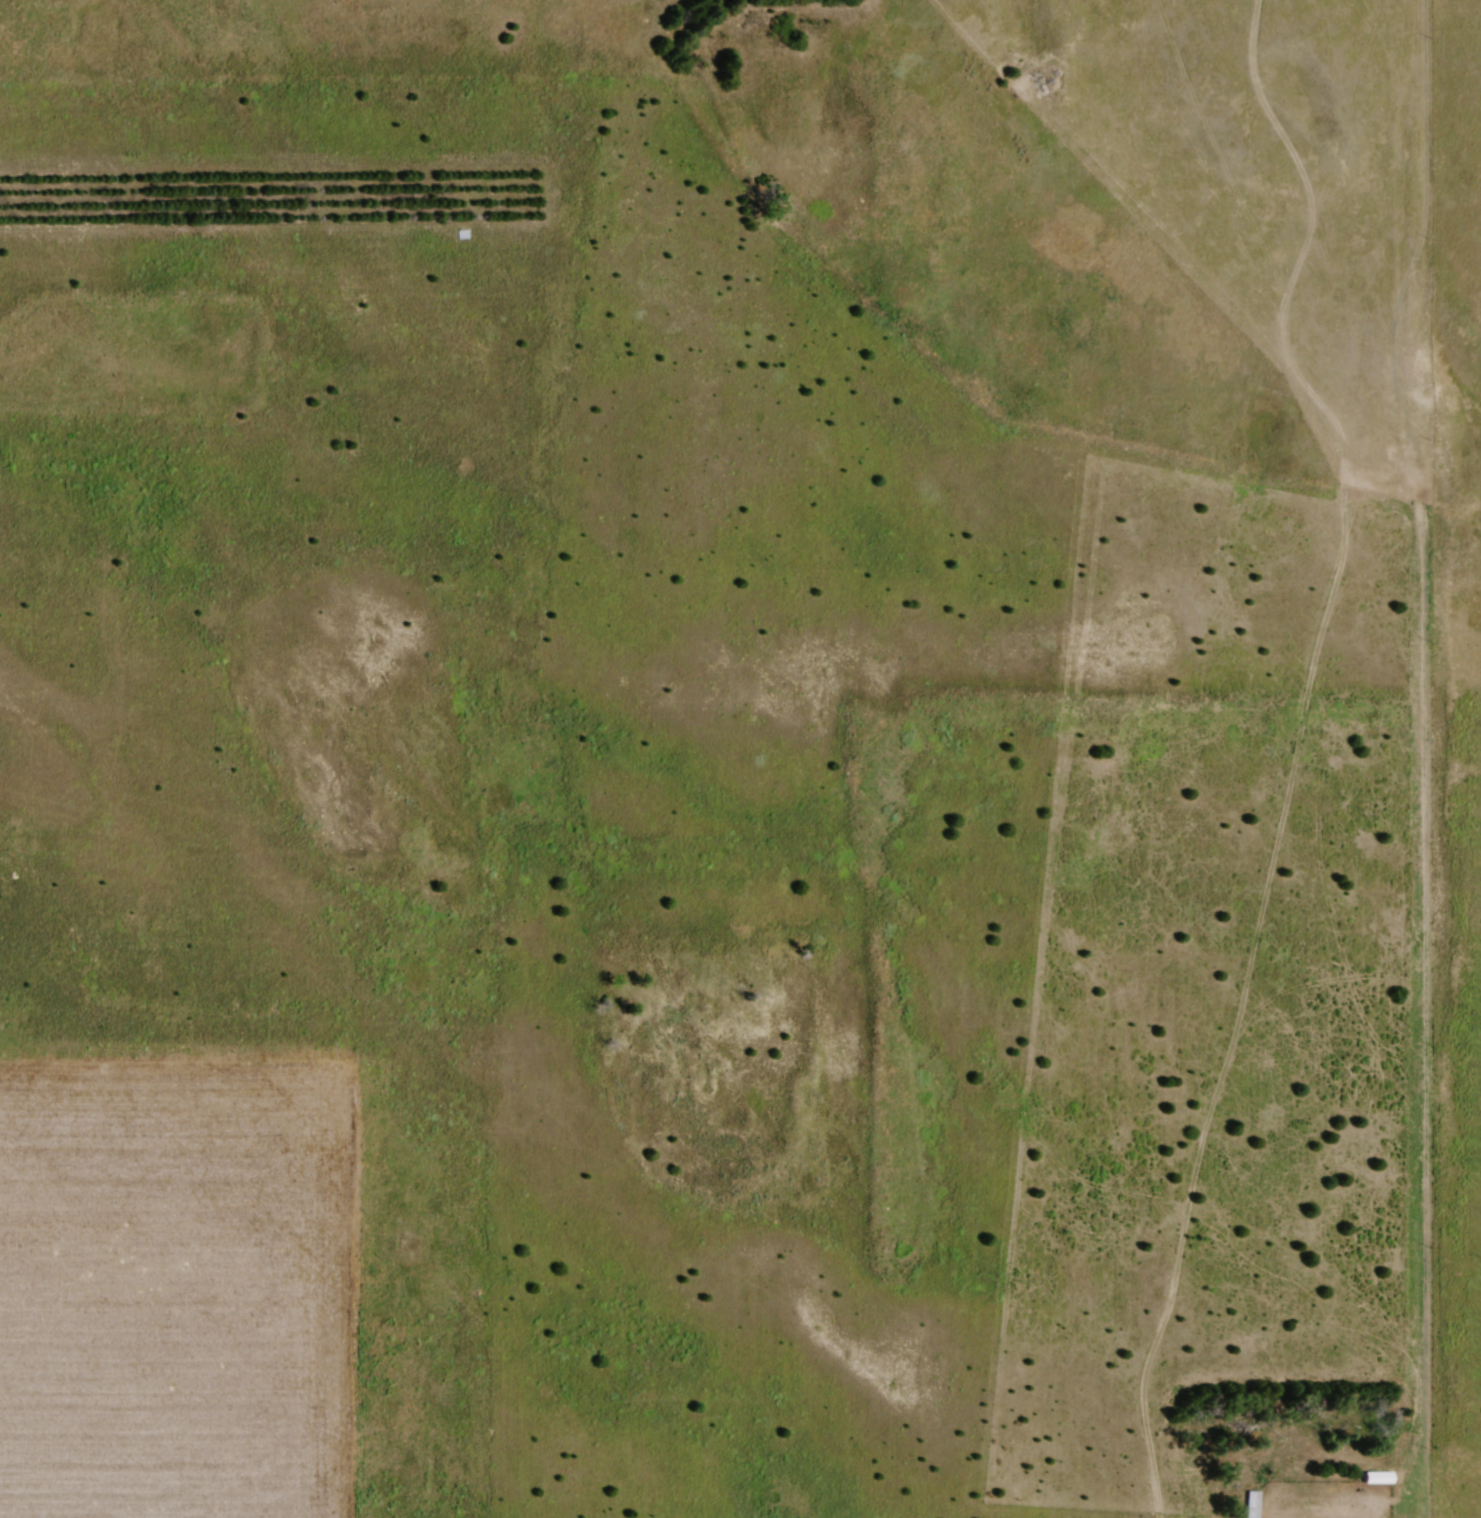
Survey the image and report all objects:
building: (1377, 1478)
building: (1252, 1504)

